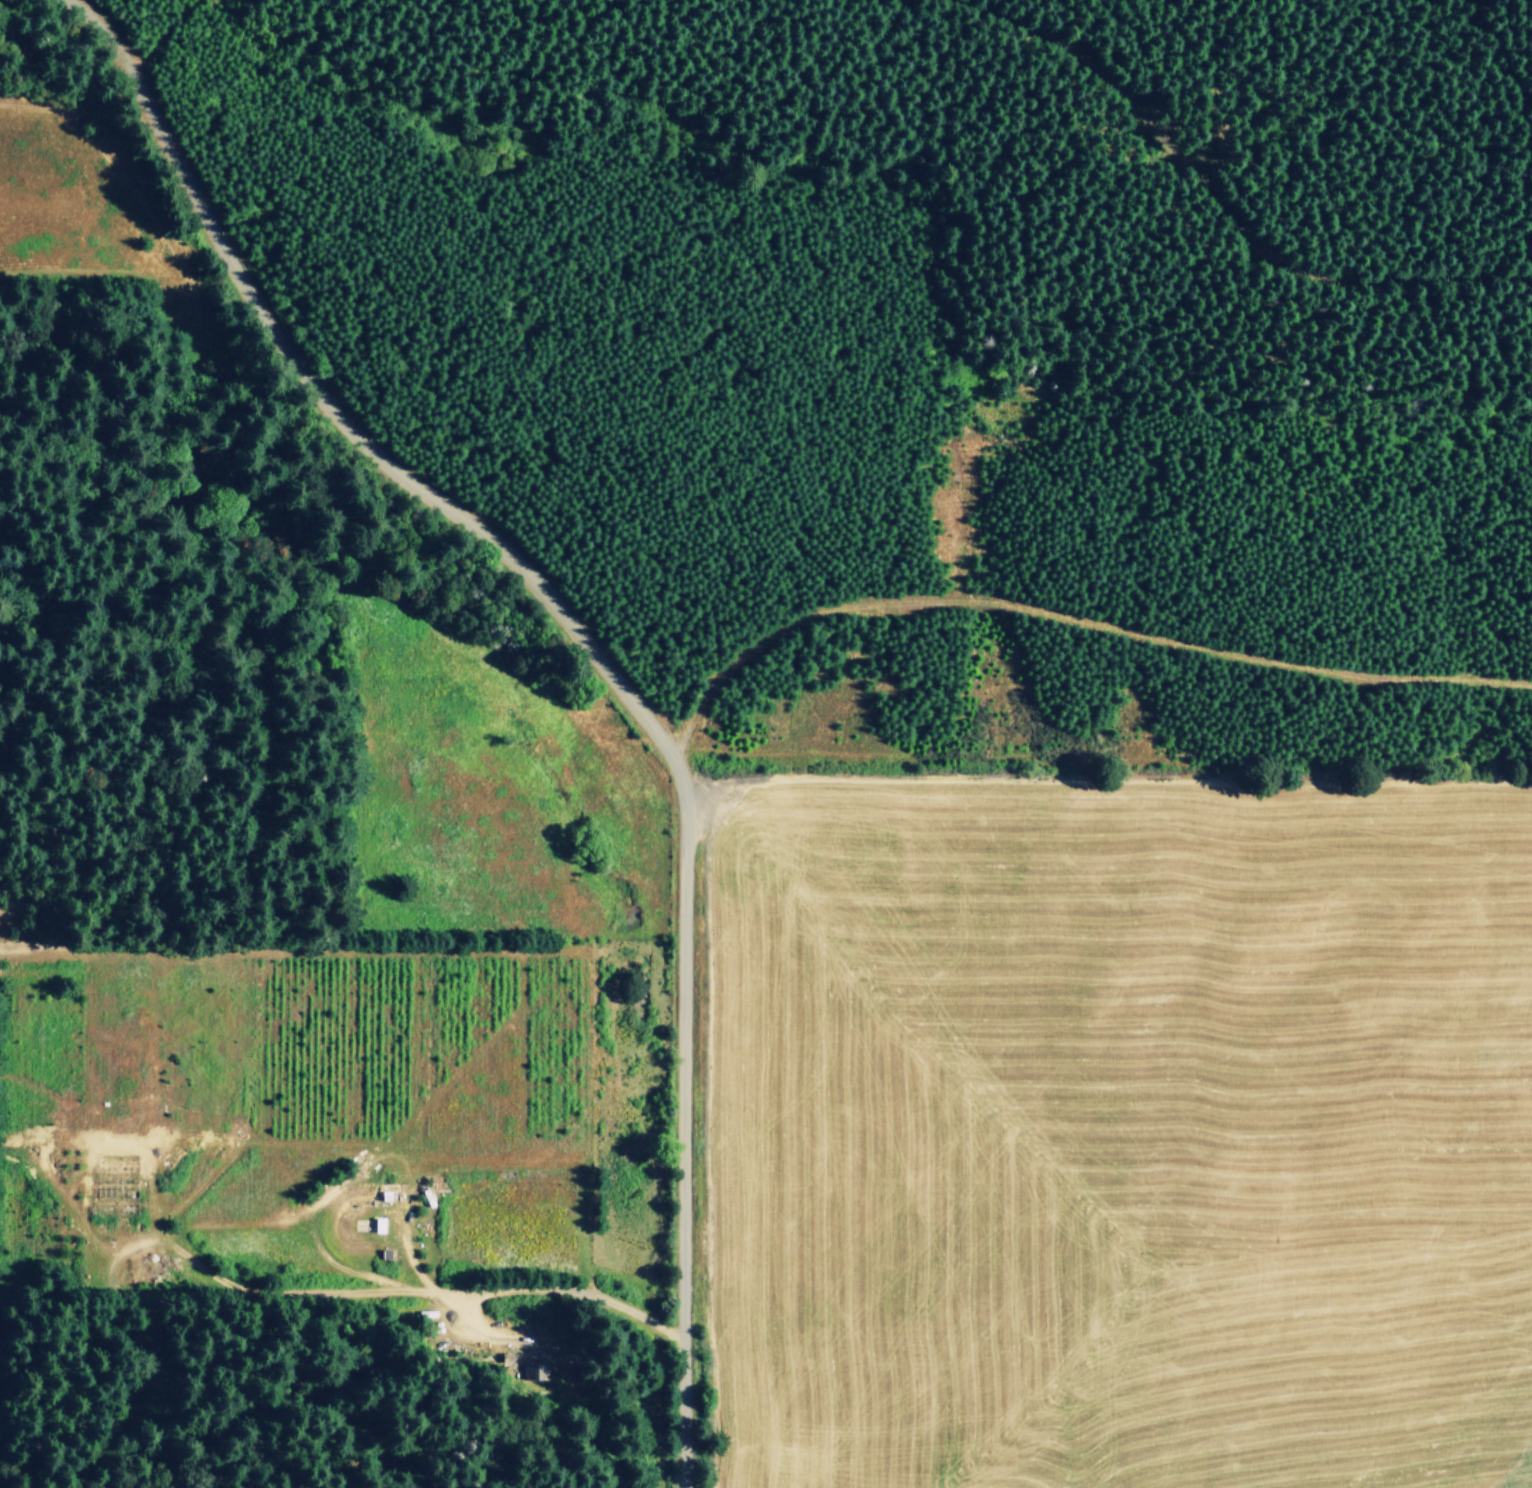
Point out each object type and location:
road: (597, 659)

